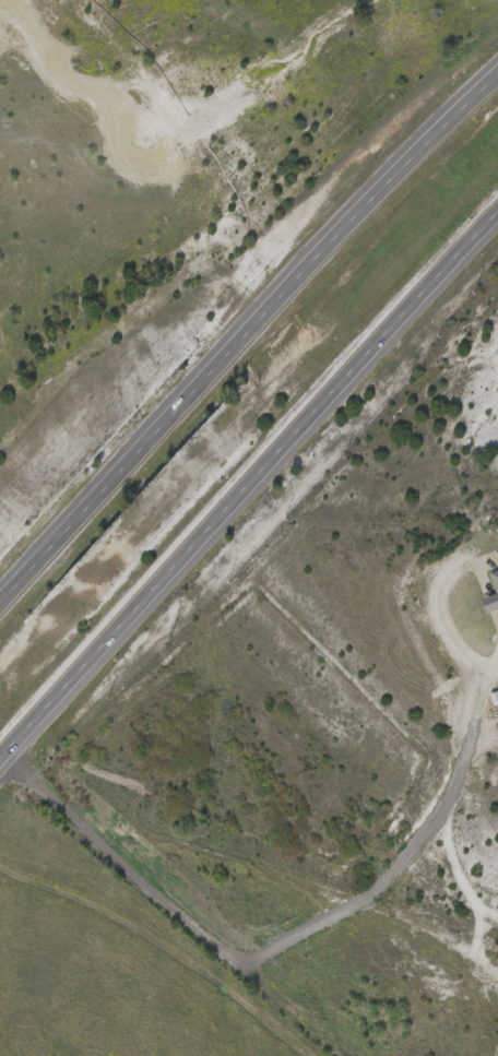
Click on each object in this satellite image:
road: (246, 334)
road: (248, 480)
building: (495, 581)
road: (448, 826)
road: (167, 933)
road: (481, 945)

